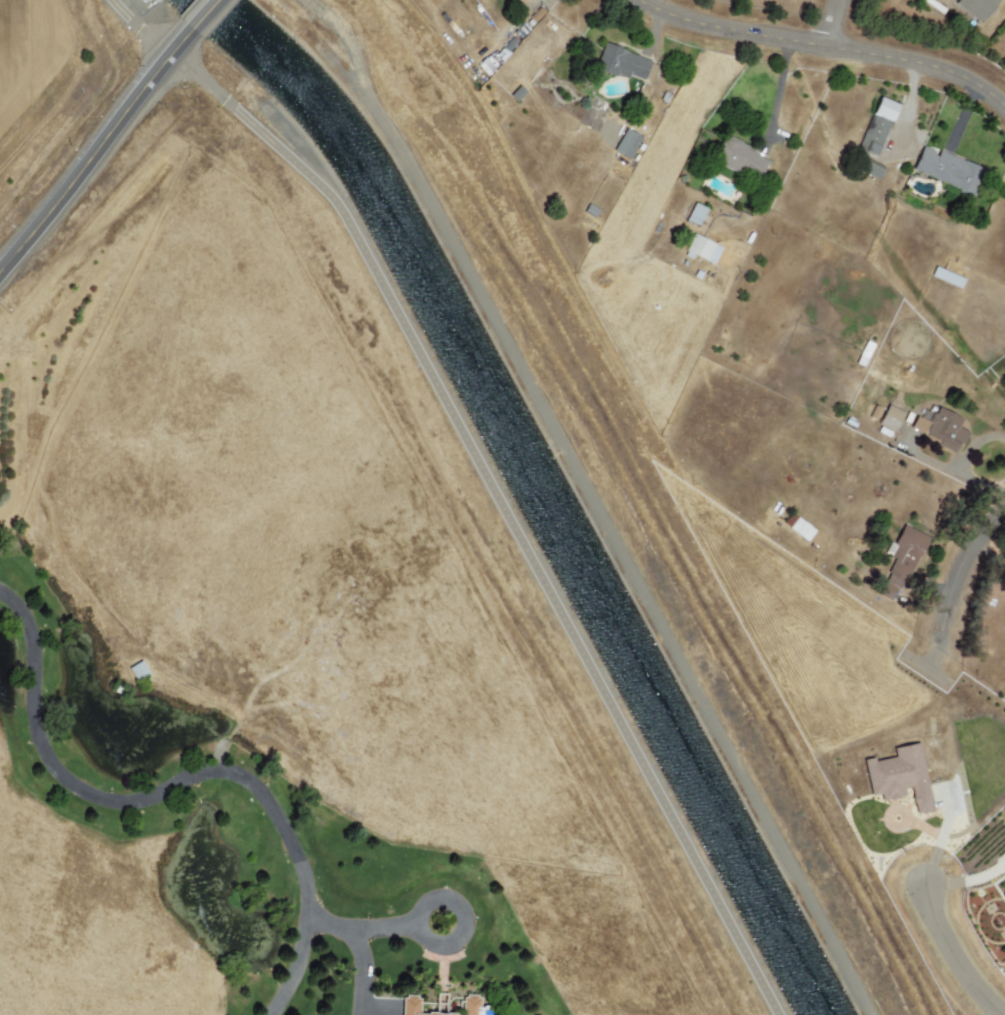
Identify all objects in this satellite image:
building: (976, 8)
road: (204, 14)
road: (839, 28)
road: (814, 55)
building: (624, 64)
road: (778, 101)
building: (877, 126)
road: (95, 143)
building: (626, 144)
building: (740, 159)
building: (872, 169)
building: (947, 170)
building: (695, 214)
building: (702, 250)
building: (946, 277)
building: (890, 418)
building: (940, 429)
road: (974, 444)
road: (945, 467)
road: (491, 475)
road: (600, 504)
building: (802, 530)
building: (900, 562)
road: (961, 583)
building: (899, 777)
road: (173, 784)
road: (940, 844)
building: (1004, 879)
road: (965, 882)
road: (466, 920)
road: (956, 958)
road: (294, 964)
building: (410, 1005)

